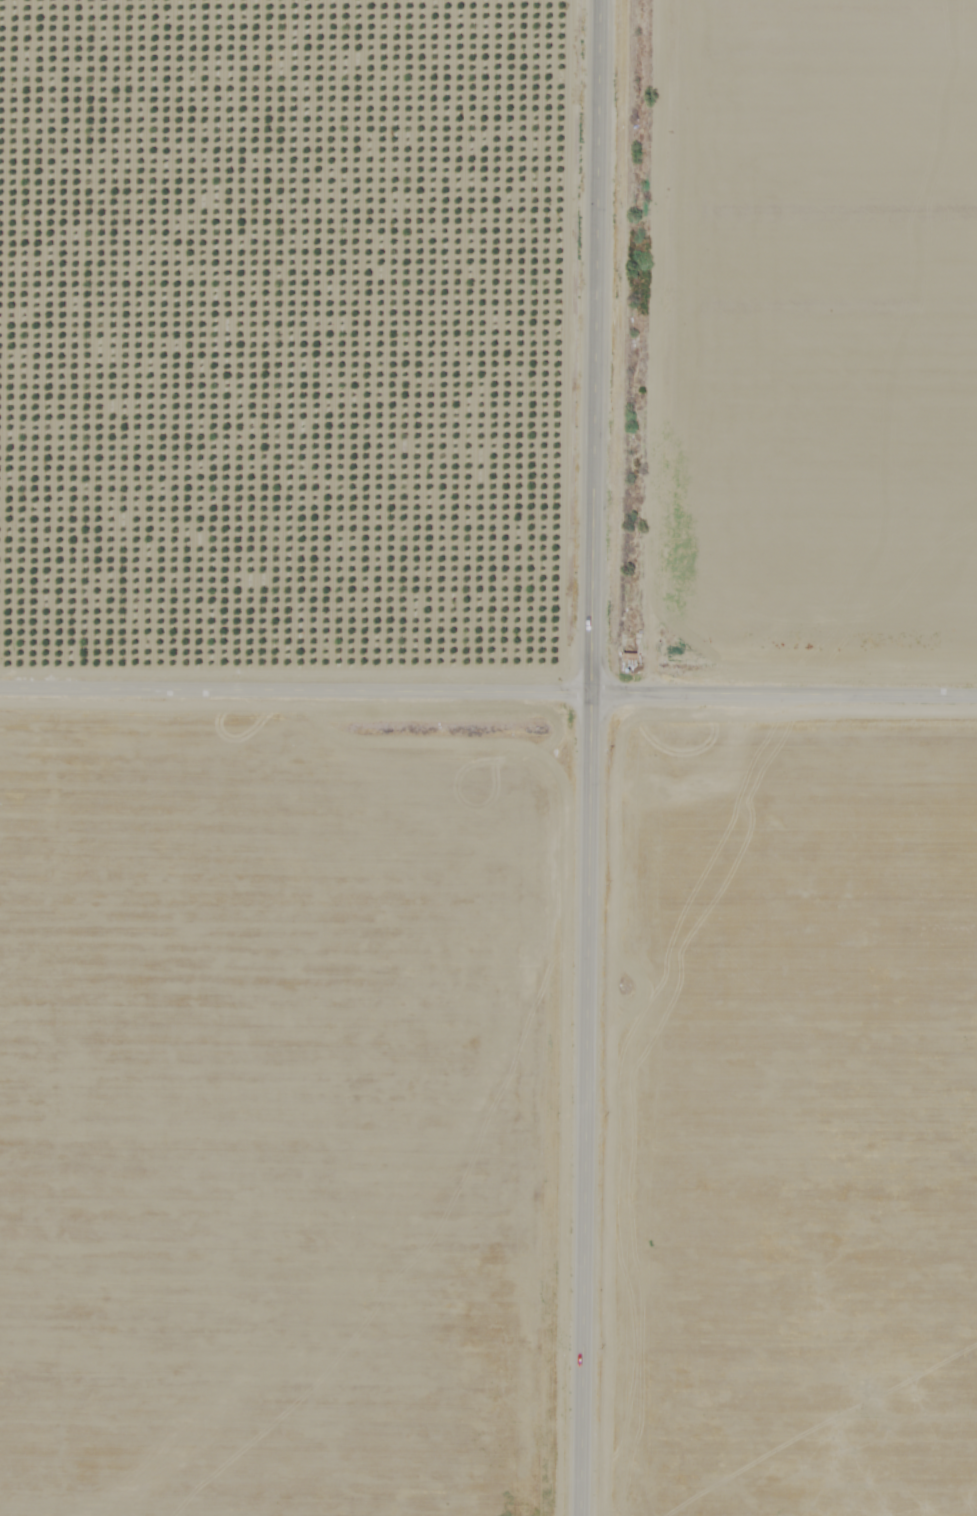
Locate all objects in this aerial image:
crop: (290, 347)
road: (488, 687)
road: (596, 758)

